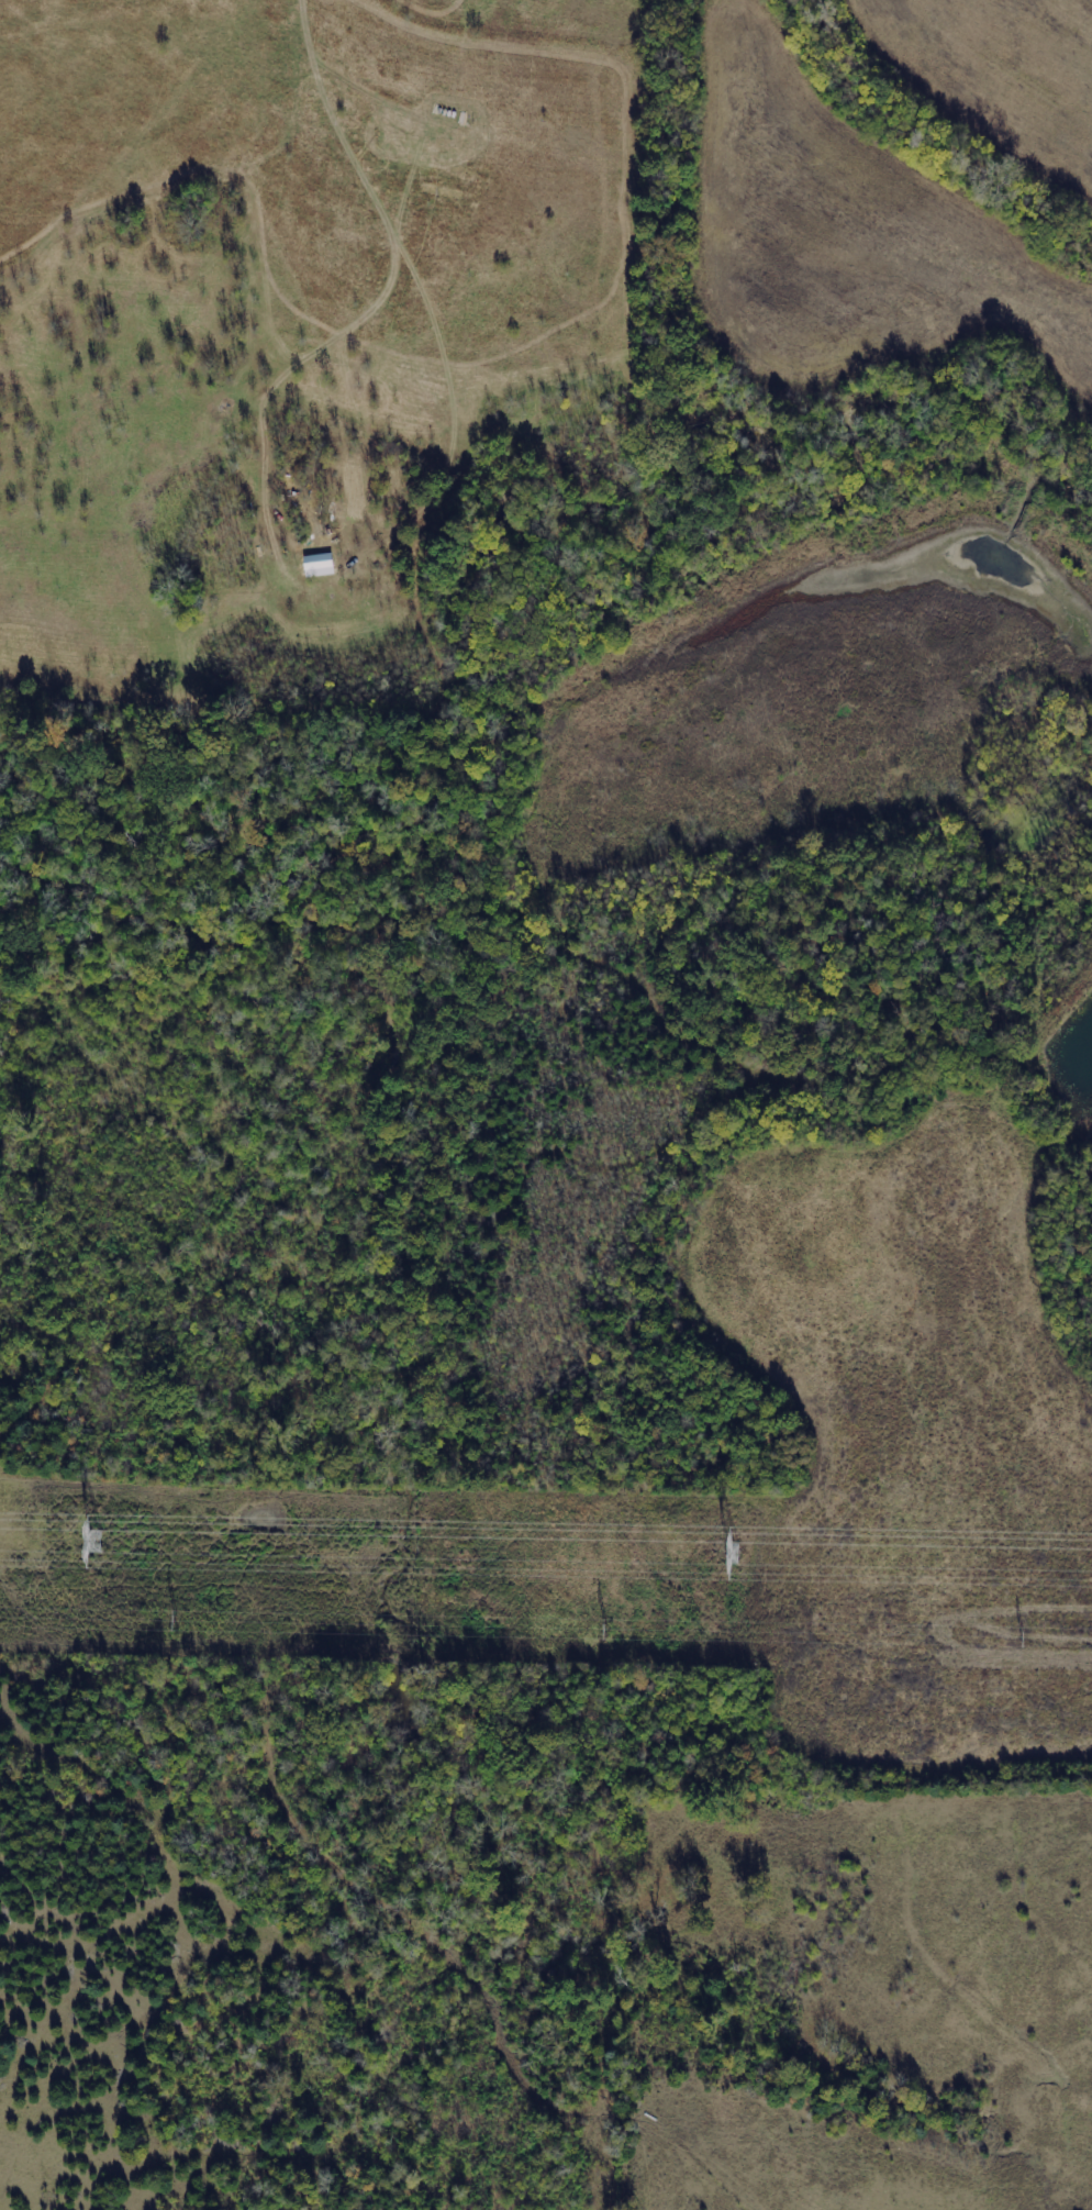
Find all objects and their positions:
power tower: (91, 1540)
power tower: (731, 1552)

